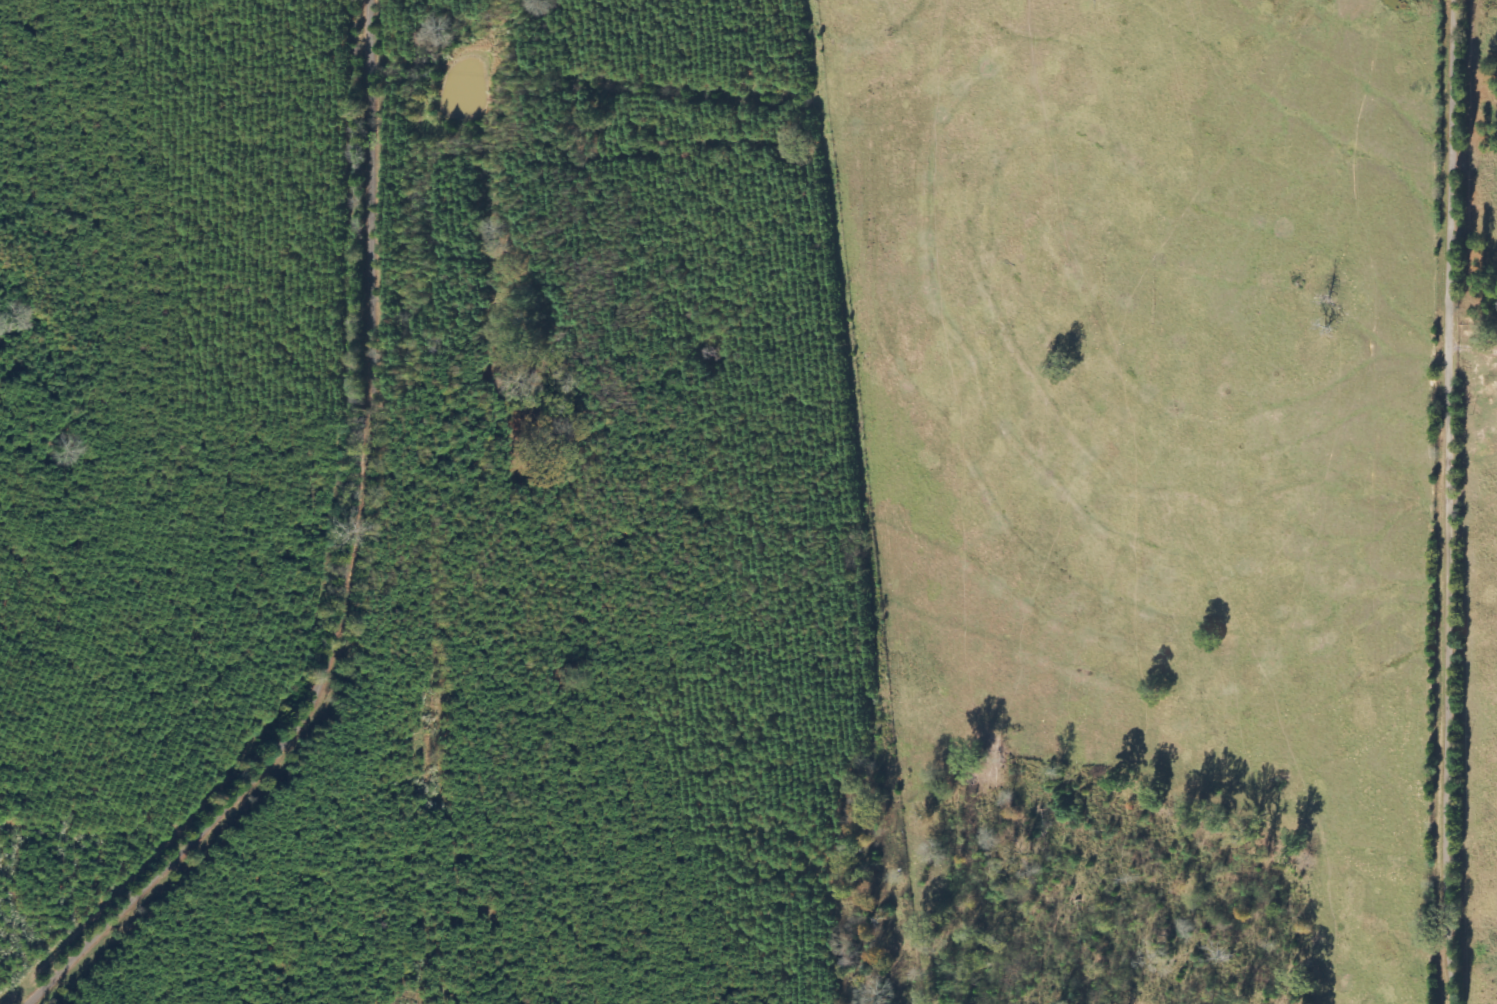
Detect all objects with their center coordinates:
road: (1457, 502)

